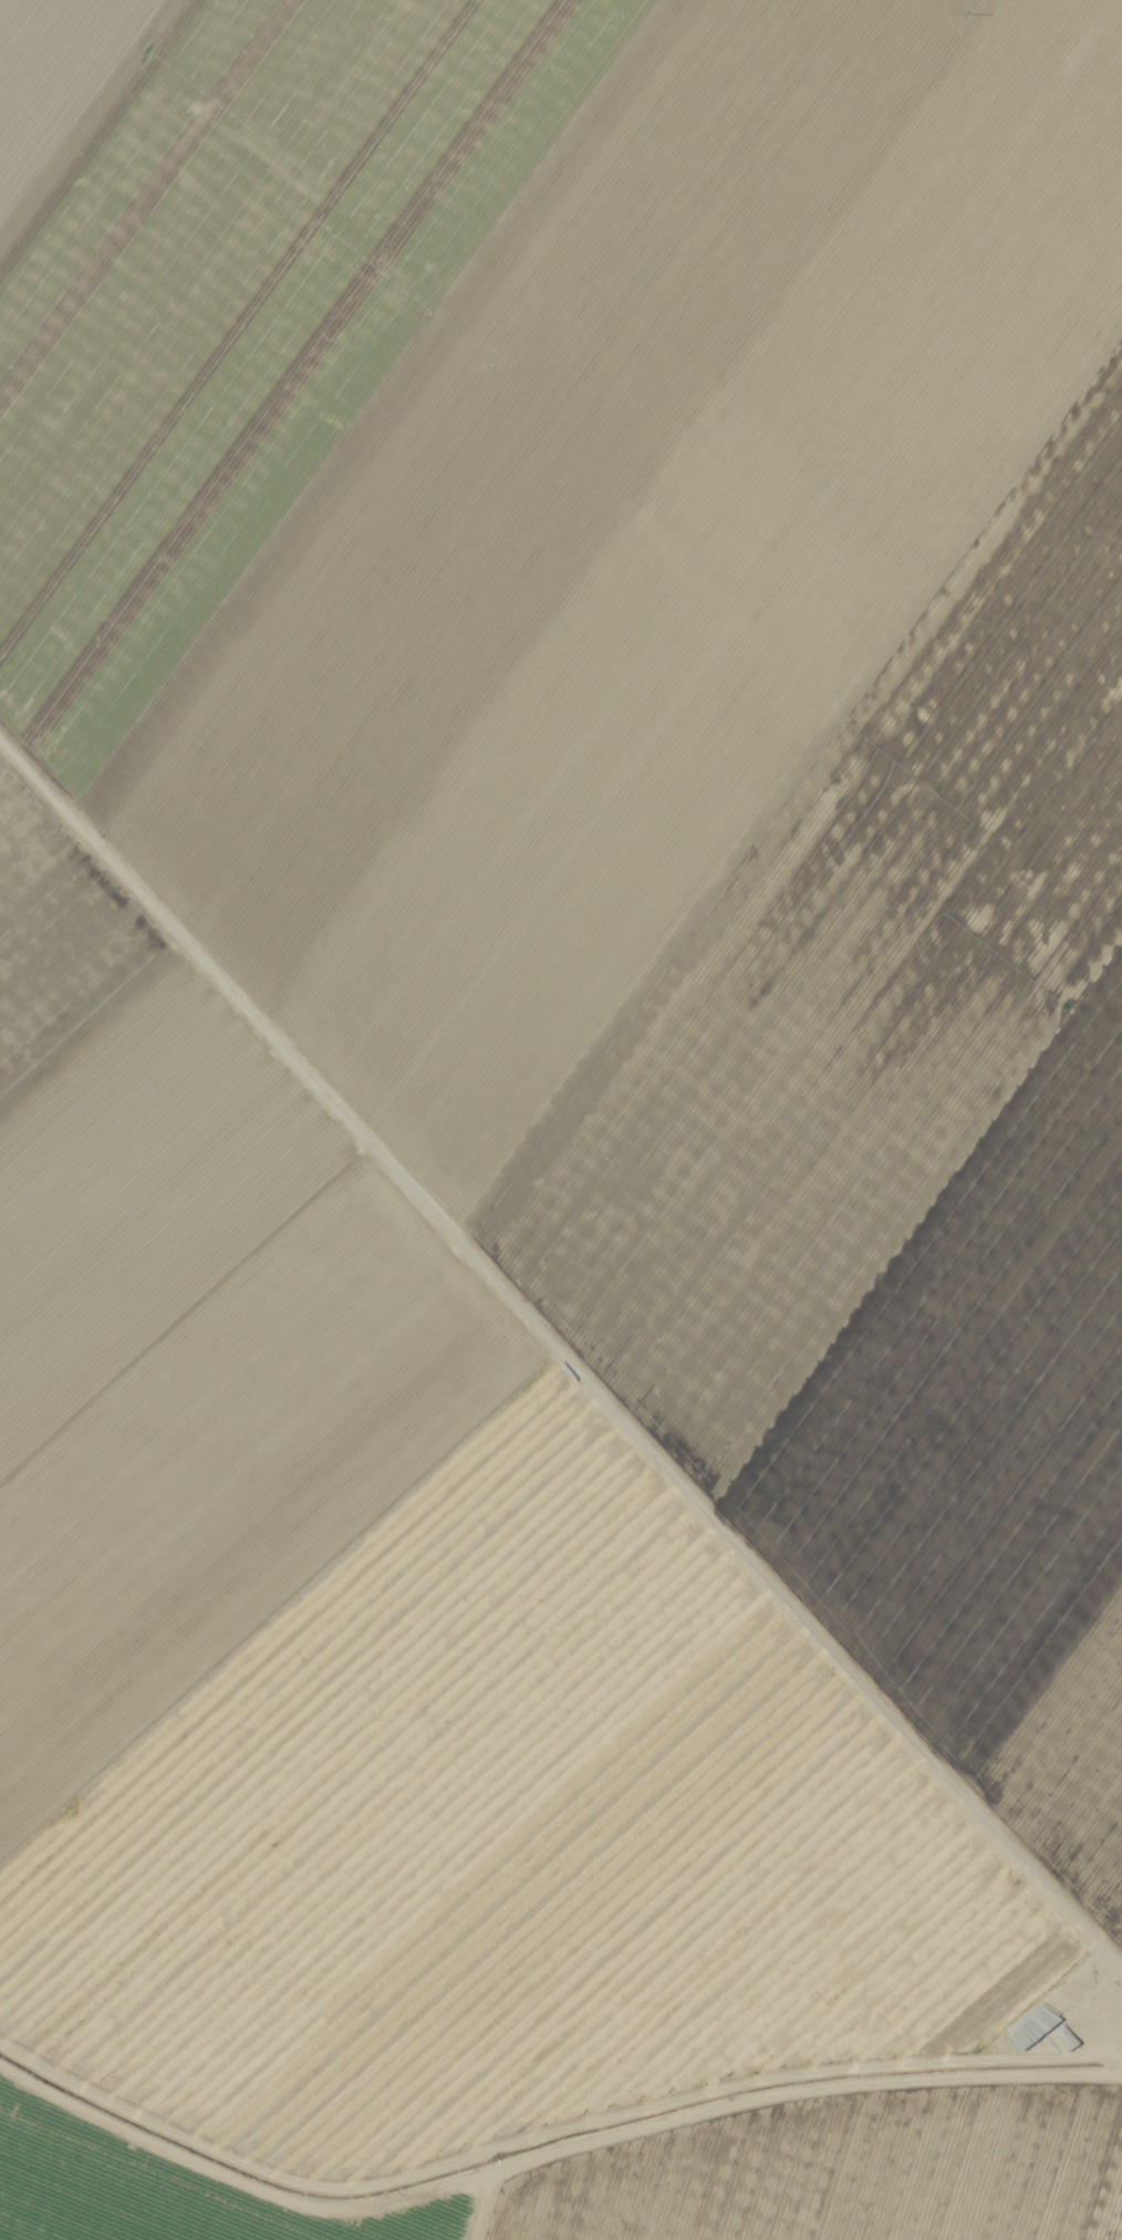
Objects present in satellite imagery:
road: (561, 1330)
building: (1073, 2034)

